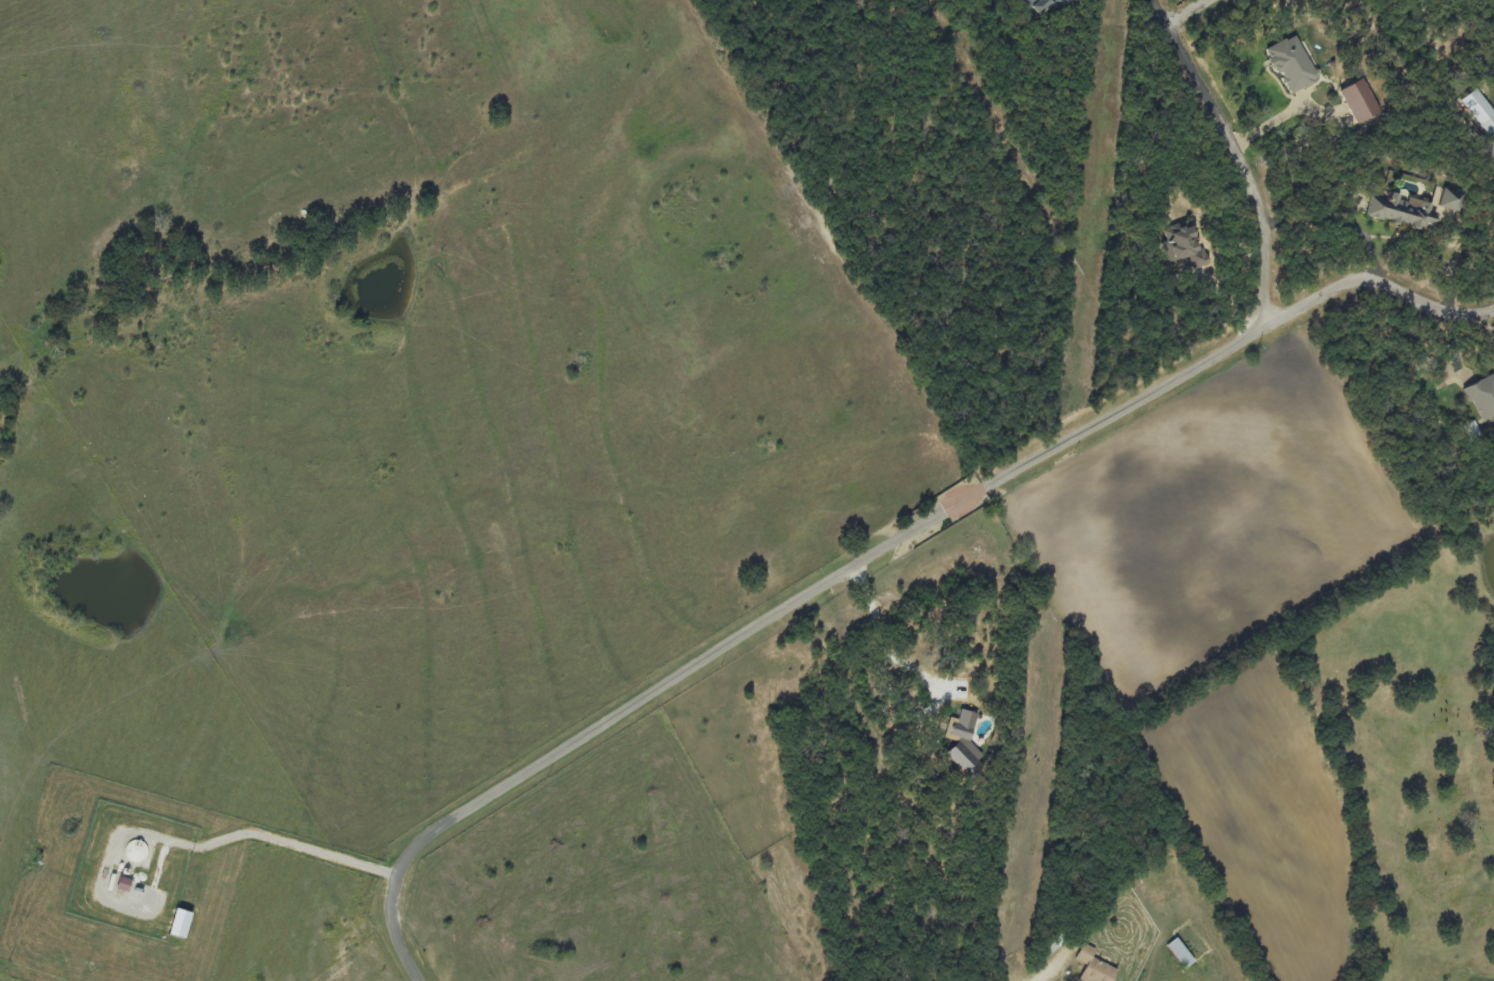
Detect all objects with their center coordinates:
building: (1047, 3)
road: (1190, 12)
building: (1292, 64)
building: (1360, 101)
building: (1481, 111)
road: (1243, 151)
building: (1450, 199)
building: (1402, 211)
building: (1185, 248)
building: (1483, 397)
road: (872, 550)
building: (963, 742)
building: (124, 885)
building: (180, 925)
building: (1052, 945)
building: (1181, 954)
building: (1095, 967)

